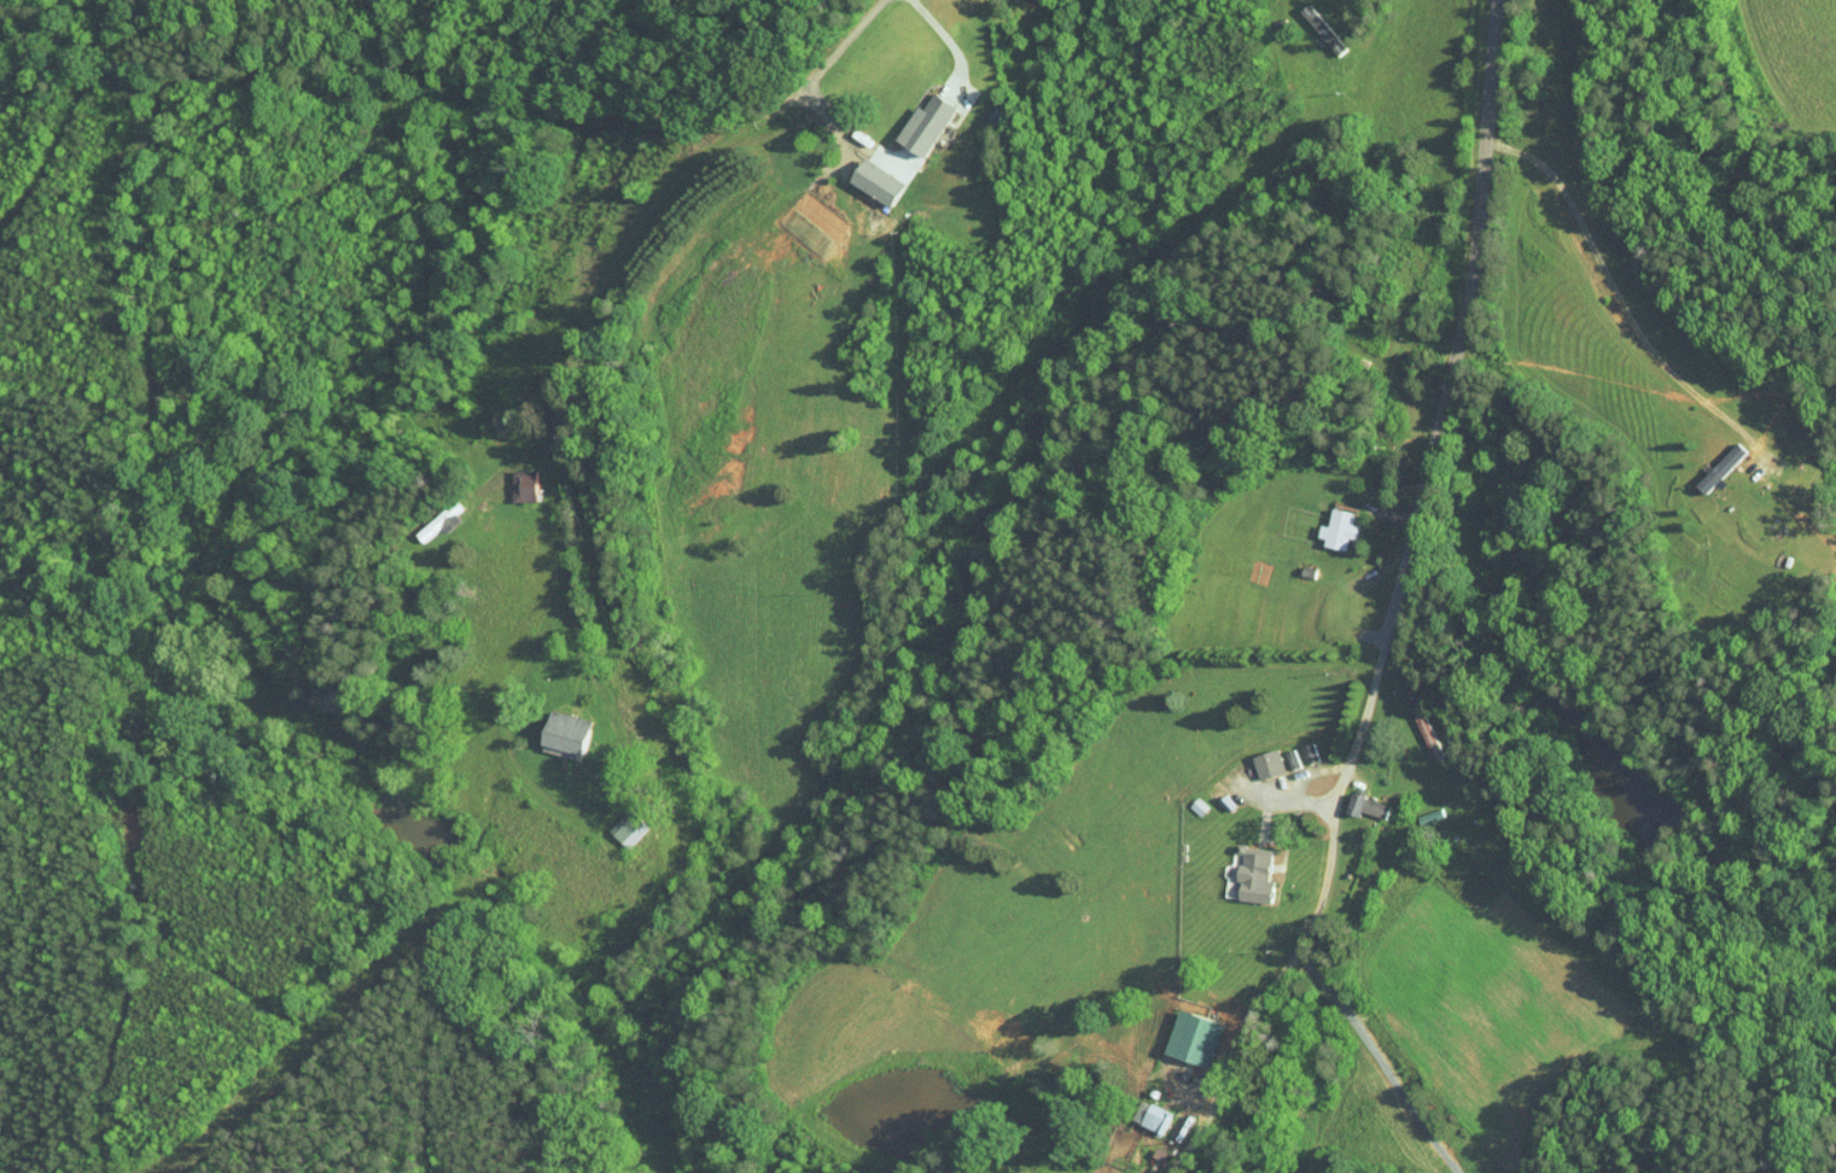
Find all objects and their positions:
road: (950, 39)
building: (908, 116)
building: (858, 173)
road: (1605, 293)
road: (605, 305)
building: (1697, 467)
building: (506, 477)
building: (1321, 520)
road: (1395, 606)
building: (546, 723)
building: (1252, 755)
building: (1347, 798)
building: (1237, 865)
building: (1176, 1031)
road: (1381, 1060)
building: (1135, 1109)

